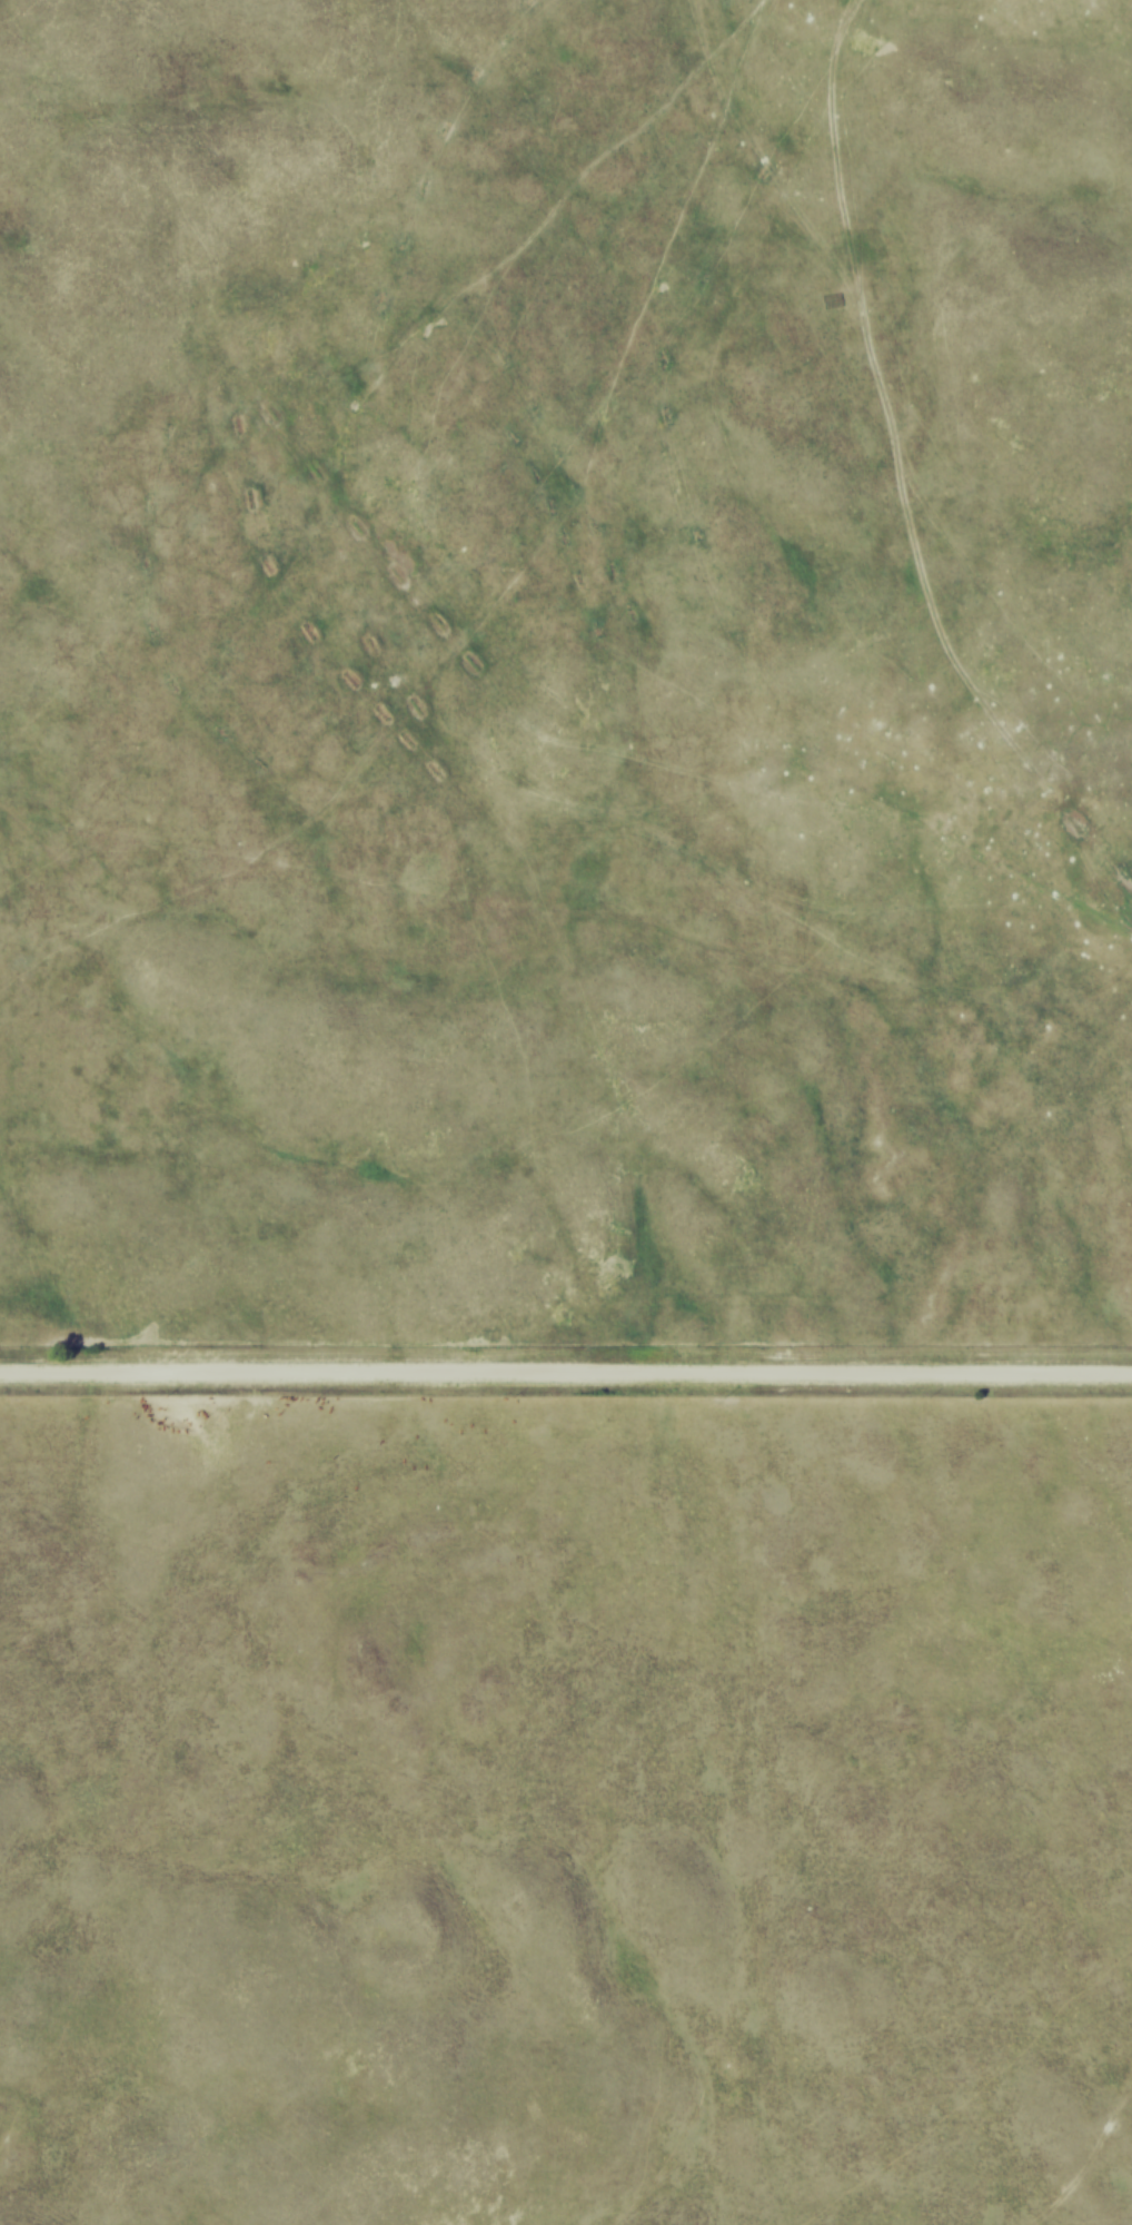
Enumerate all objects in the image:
road: (566, 1382)

